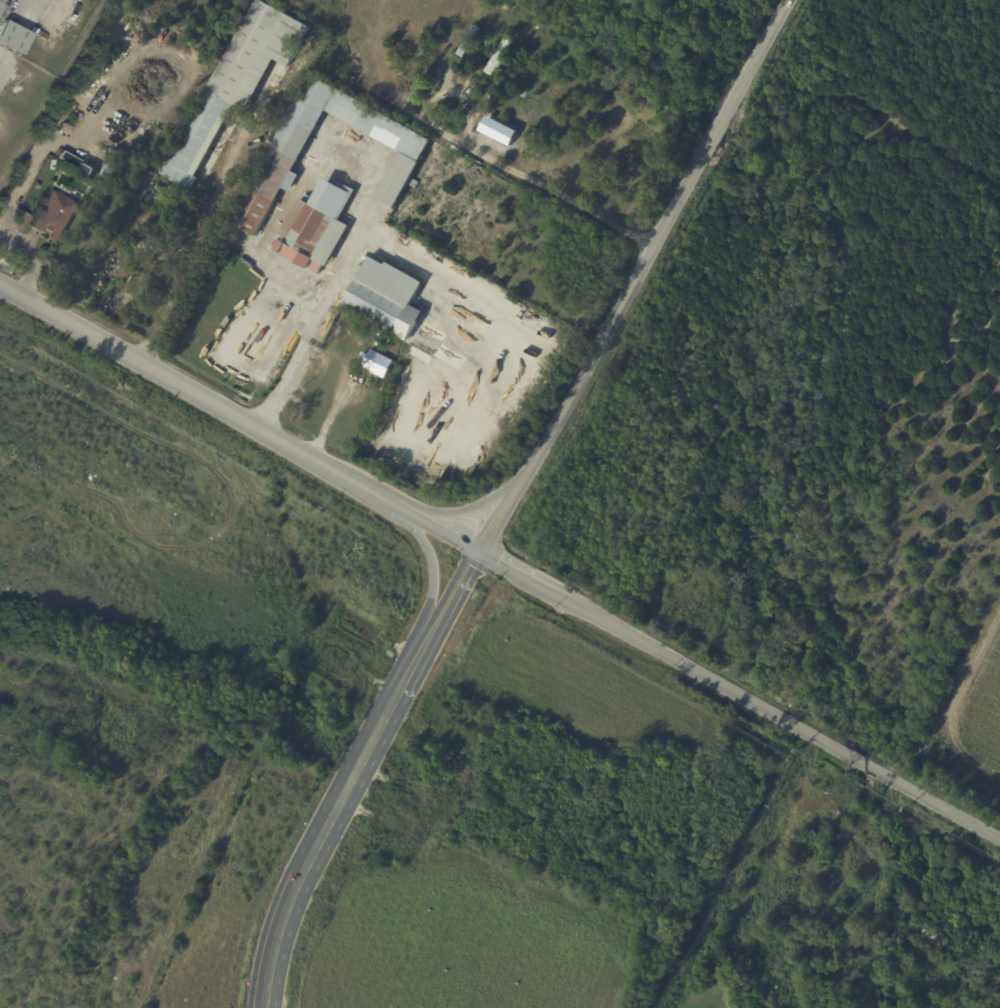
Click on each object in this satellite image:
building: (12, 37)
building: (513, 37)
building: (498, 56)
building: (503, 65)
building: (234, 86)
building: (65, 129)
building: (497, 130)
building: (116, 149)
road: (492, 156)
building: (278, 160)
road: (31, 163)
building: (75, 163)
building: (49, 165)
building: (413, 184)
building: (37, 185)
road: (293, 193)
building: (54, 217)
building: (314, 228)
building: (141, 246)
road: (193, 250)
road: (634, 276)
building: (384, 299)
road: (488, 316)
road: (310, 330)
building: (378, 344)
building: (376, 365)
road: (237, 416)
road: (432, 568)
road: (738, 692)
crop: (981, 697)
road: (355, 773)

